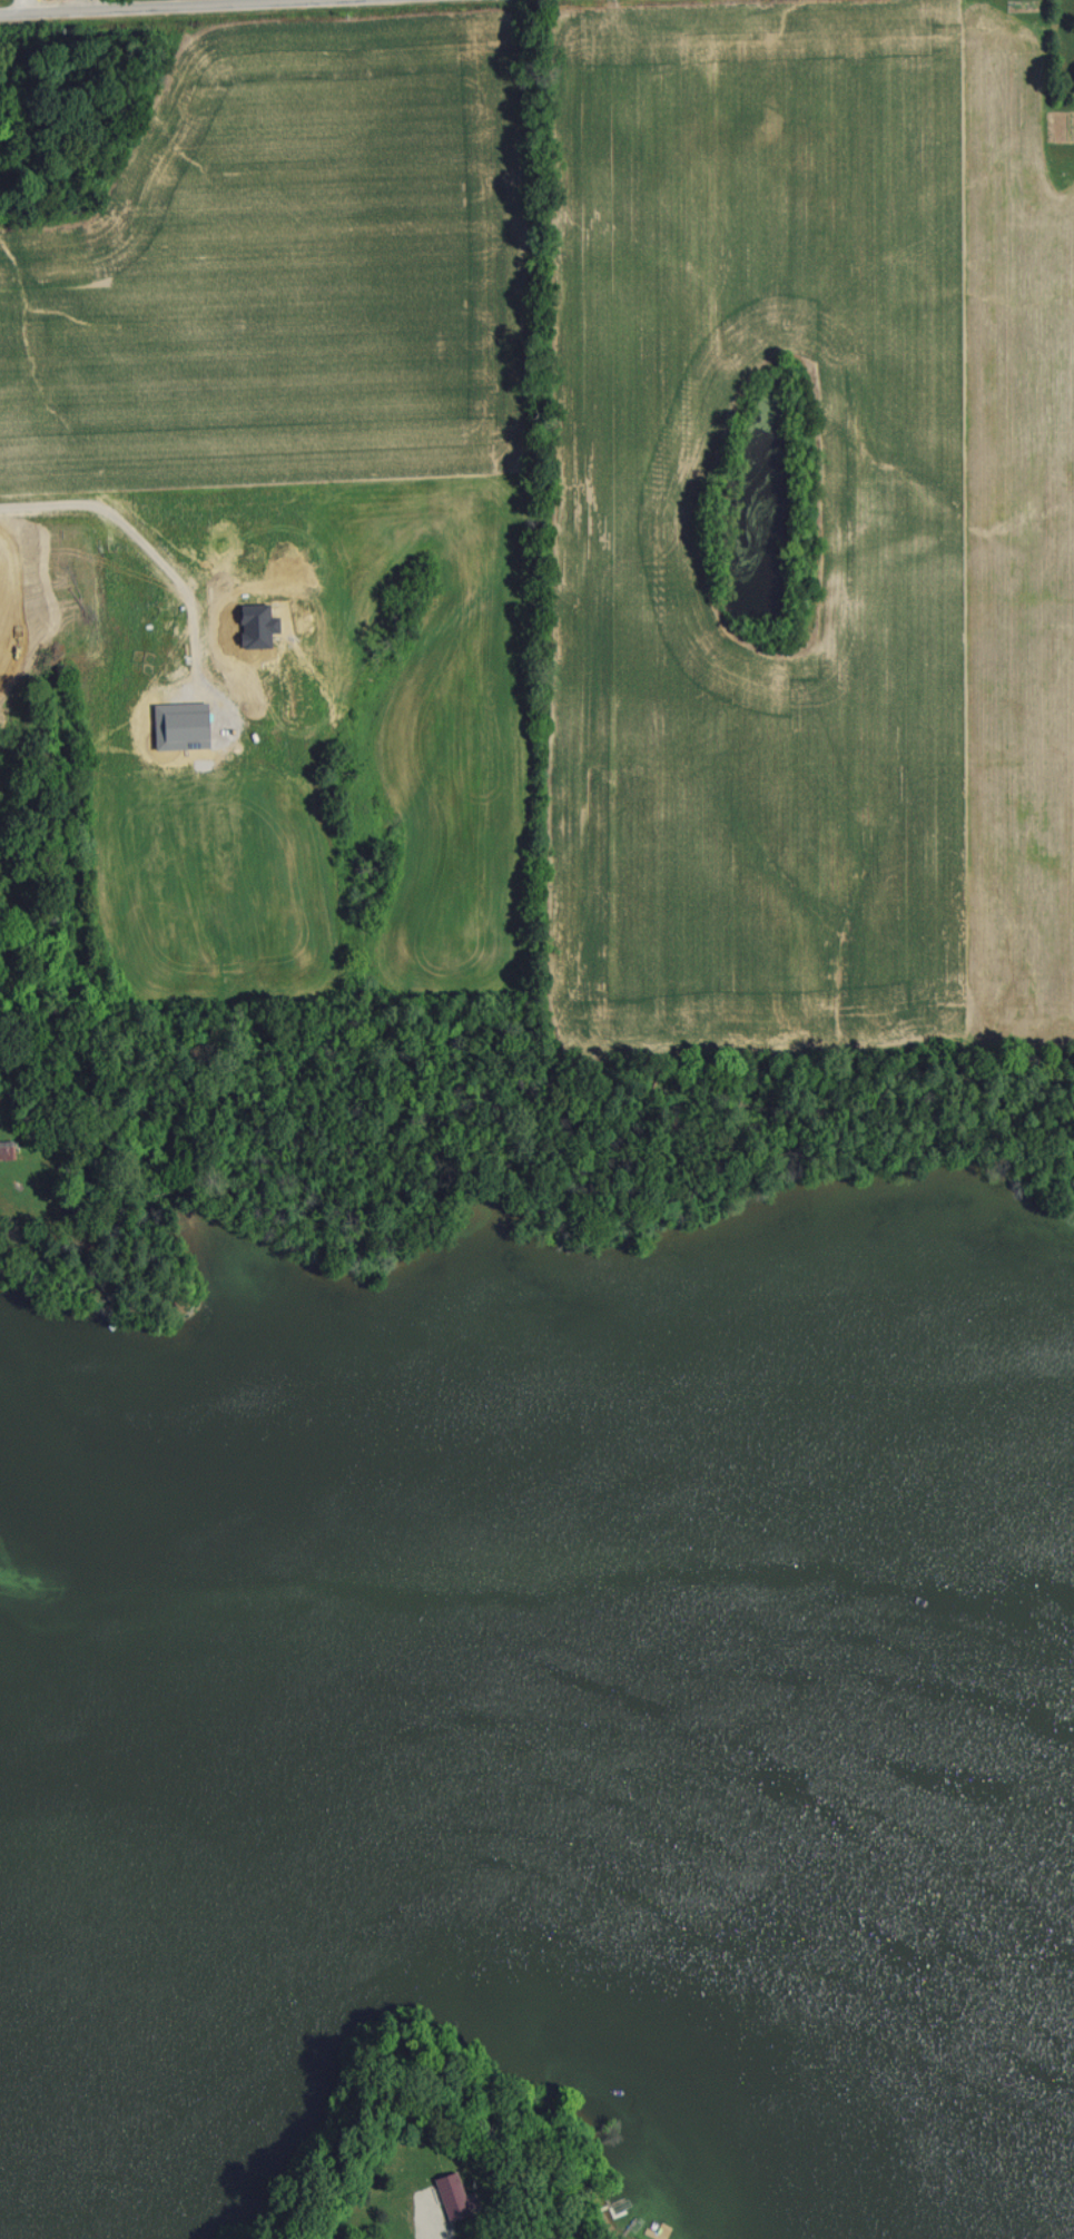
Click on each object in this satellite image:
road: (32, 6)
road: (146, 8)
building: (1073, 75)
building: (4, 1150)
building: (450, 2194)
road: (439, 2232)

